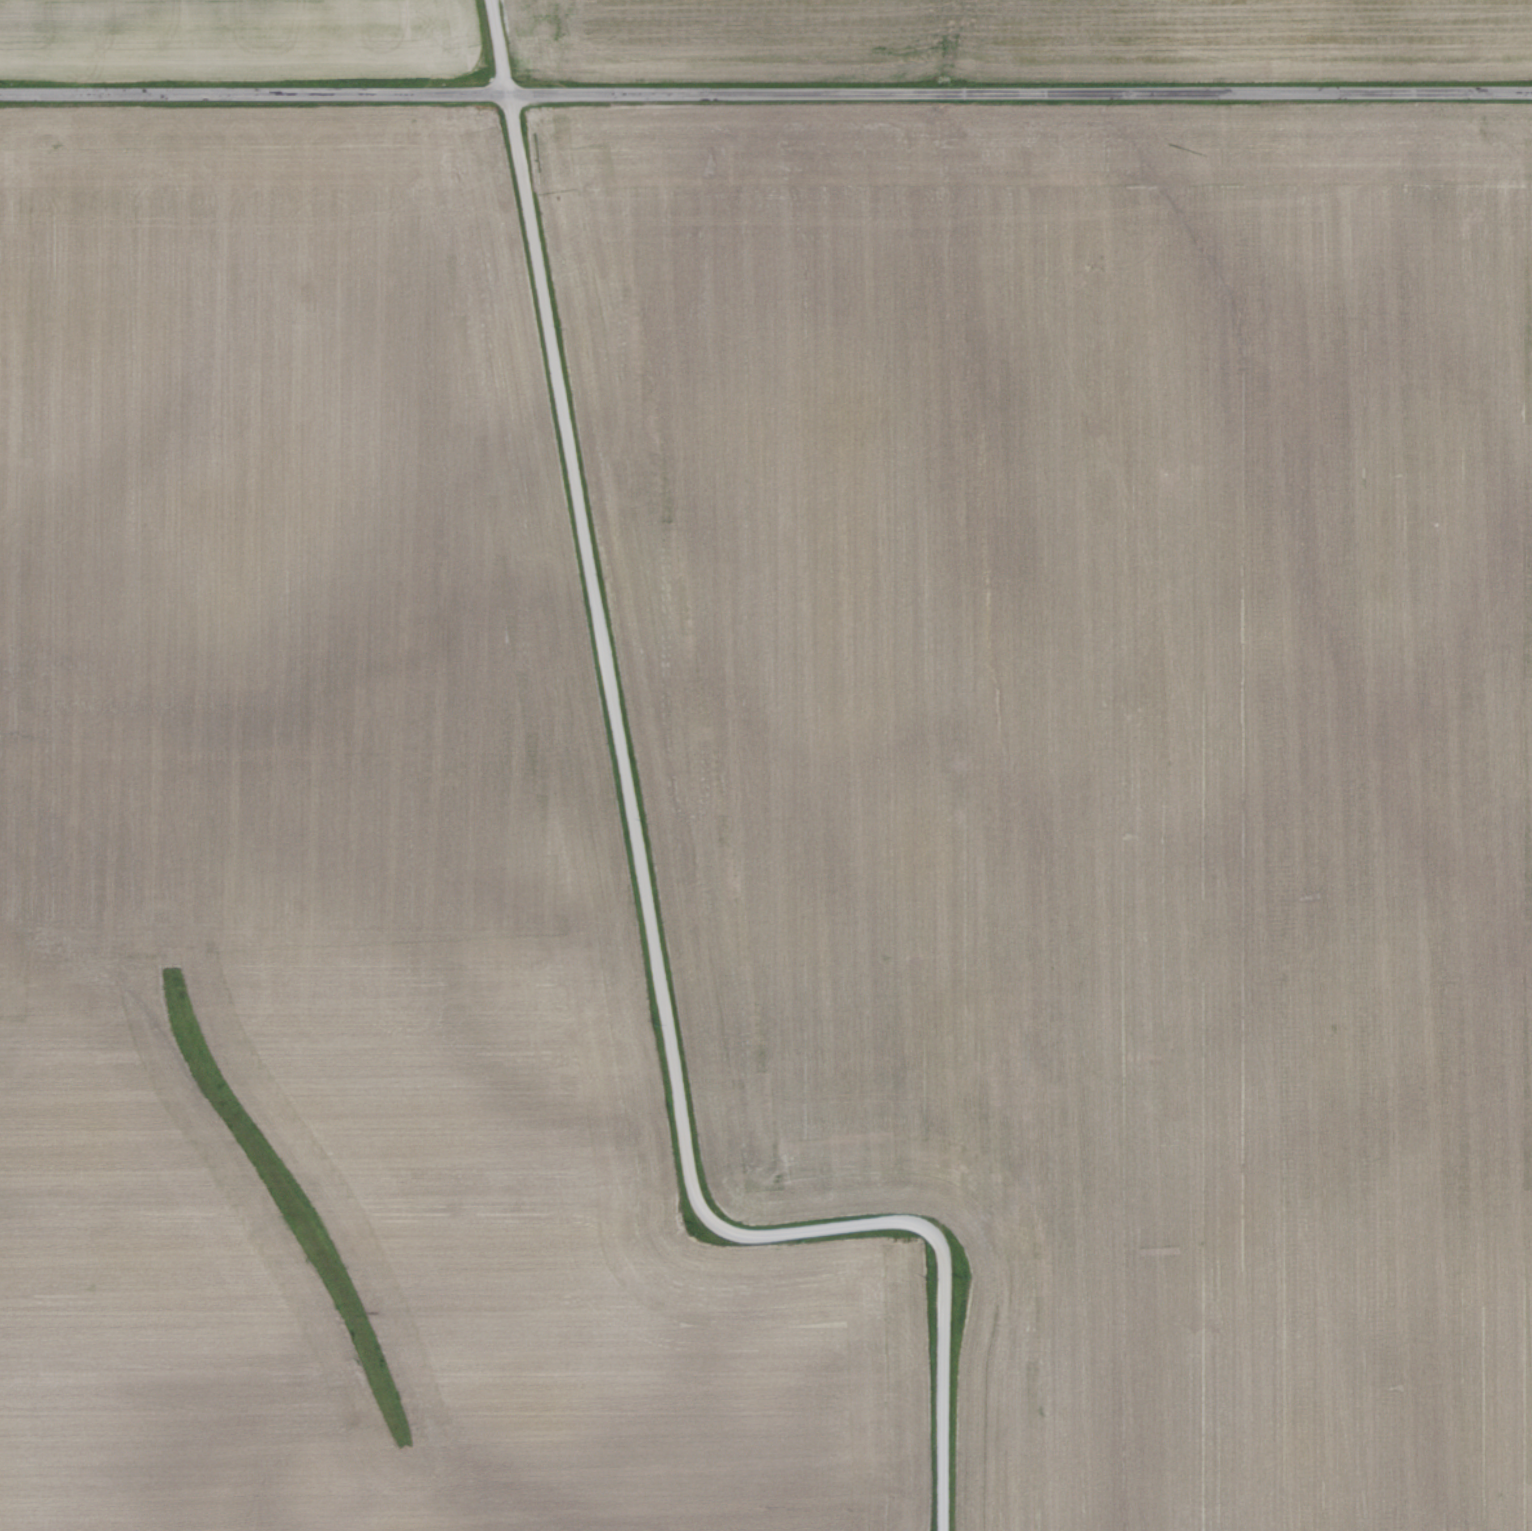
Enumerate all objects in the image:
road: (766, 94)
road: (641, 871)

